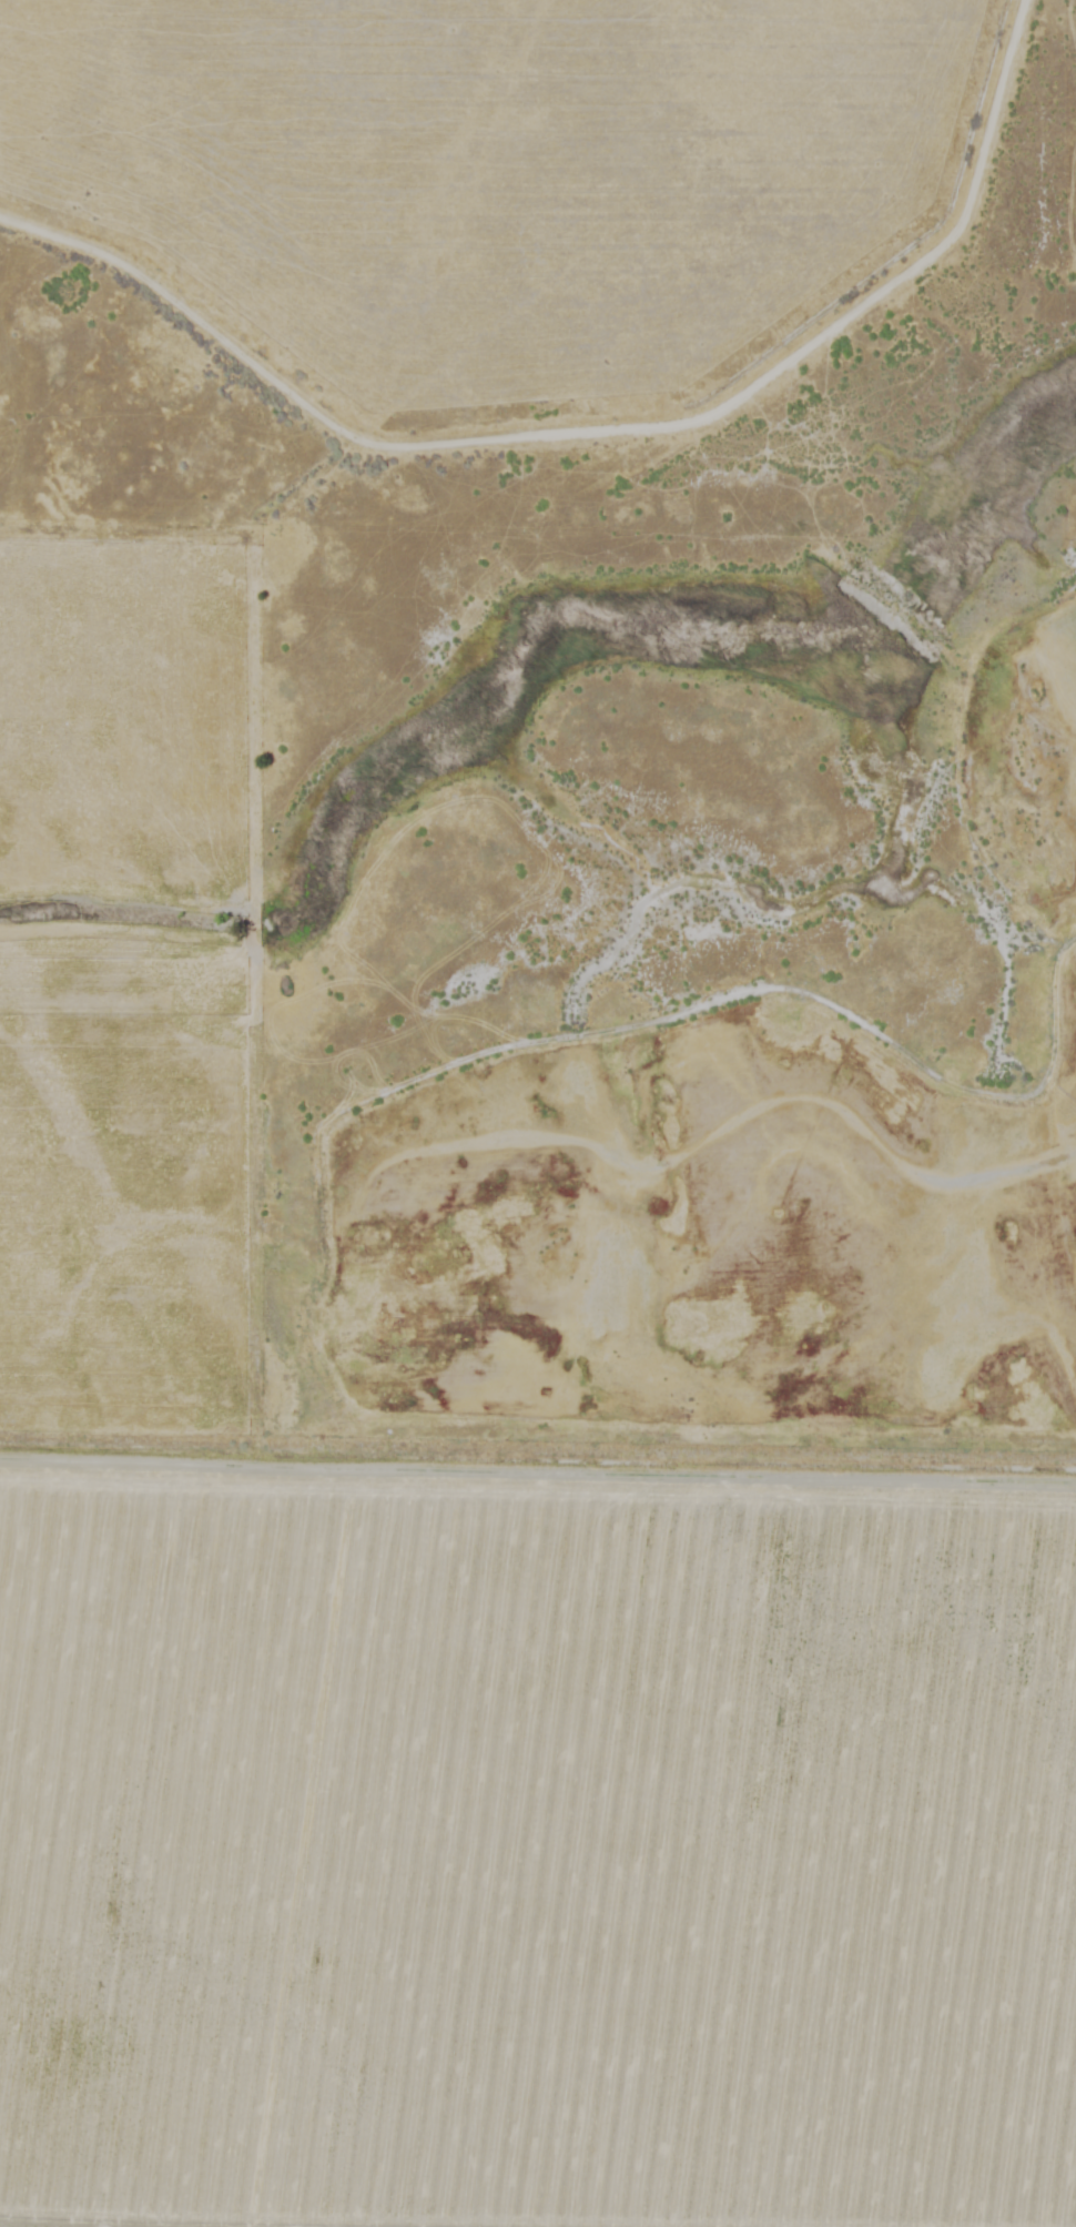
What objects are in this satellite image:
crop: (464, 205)
road: (425, 1487)
crop: (448, 1637)

